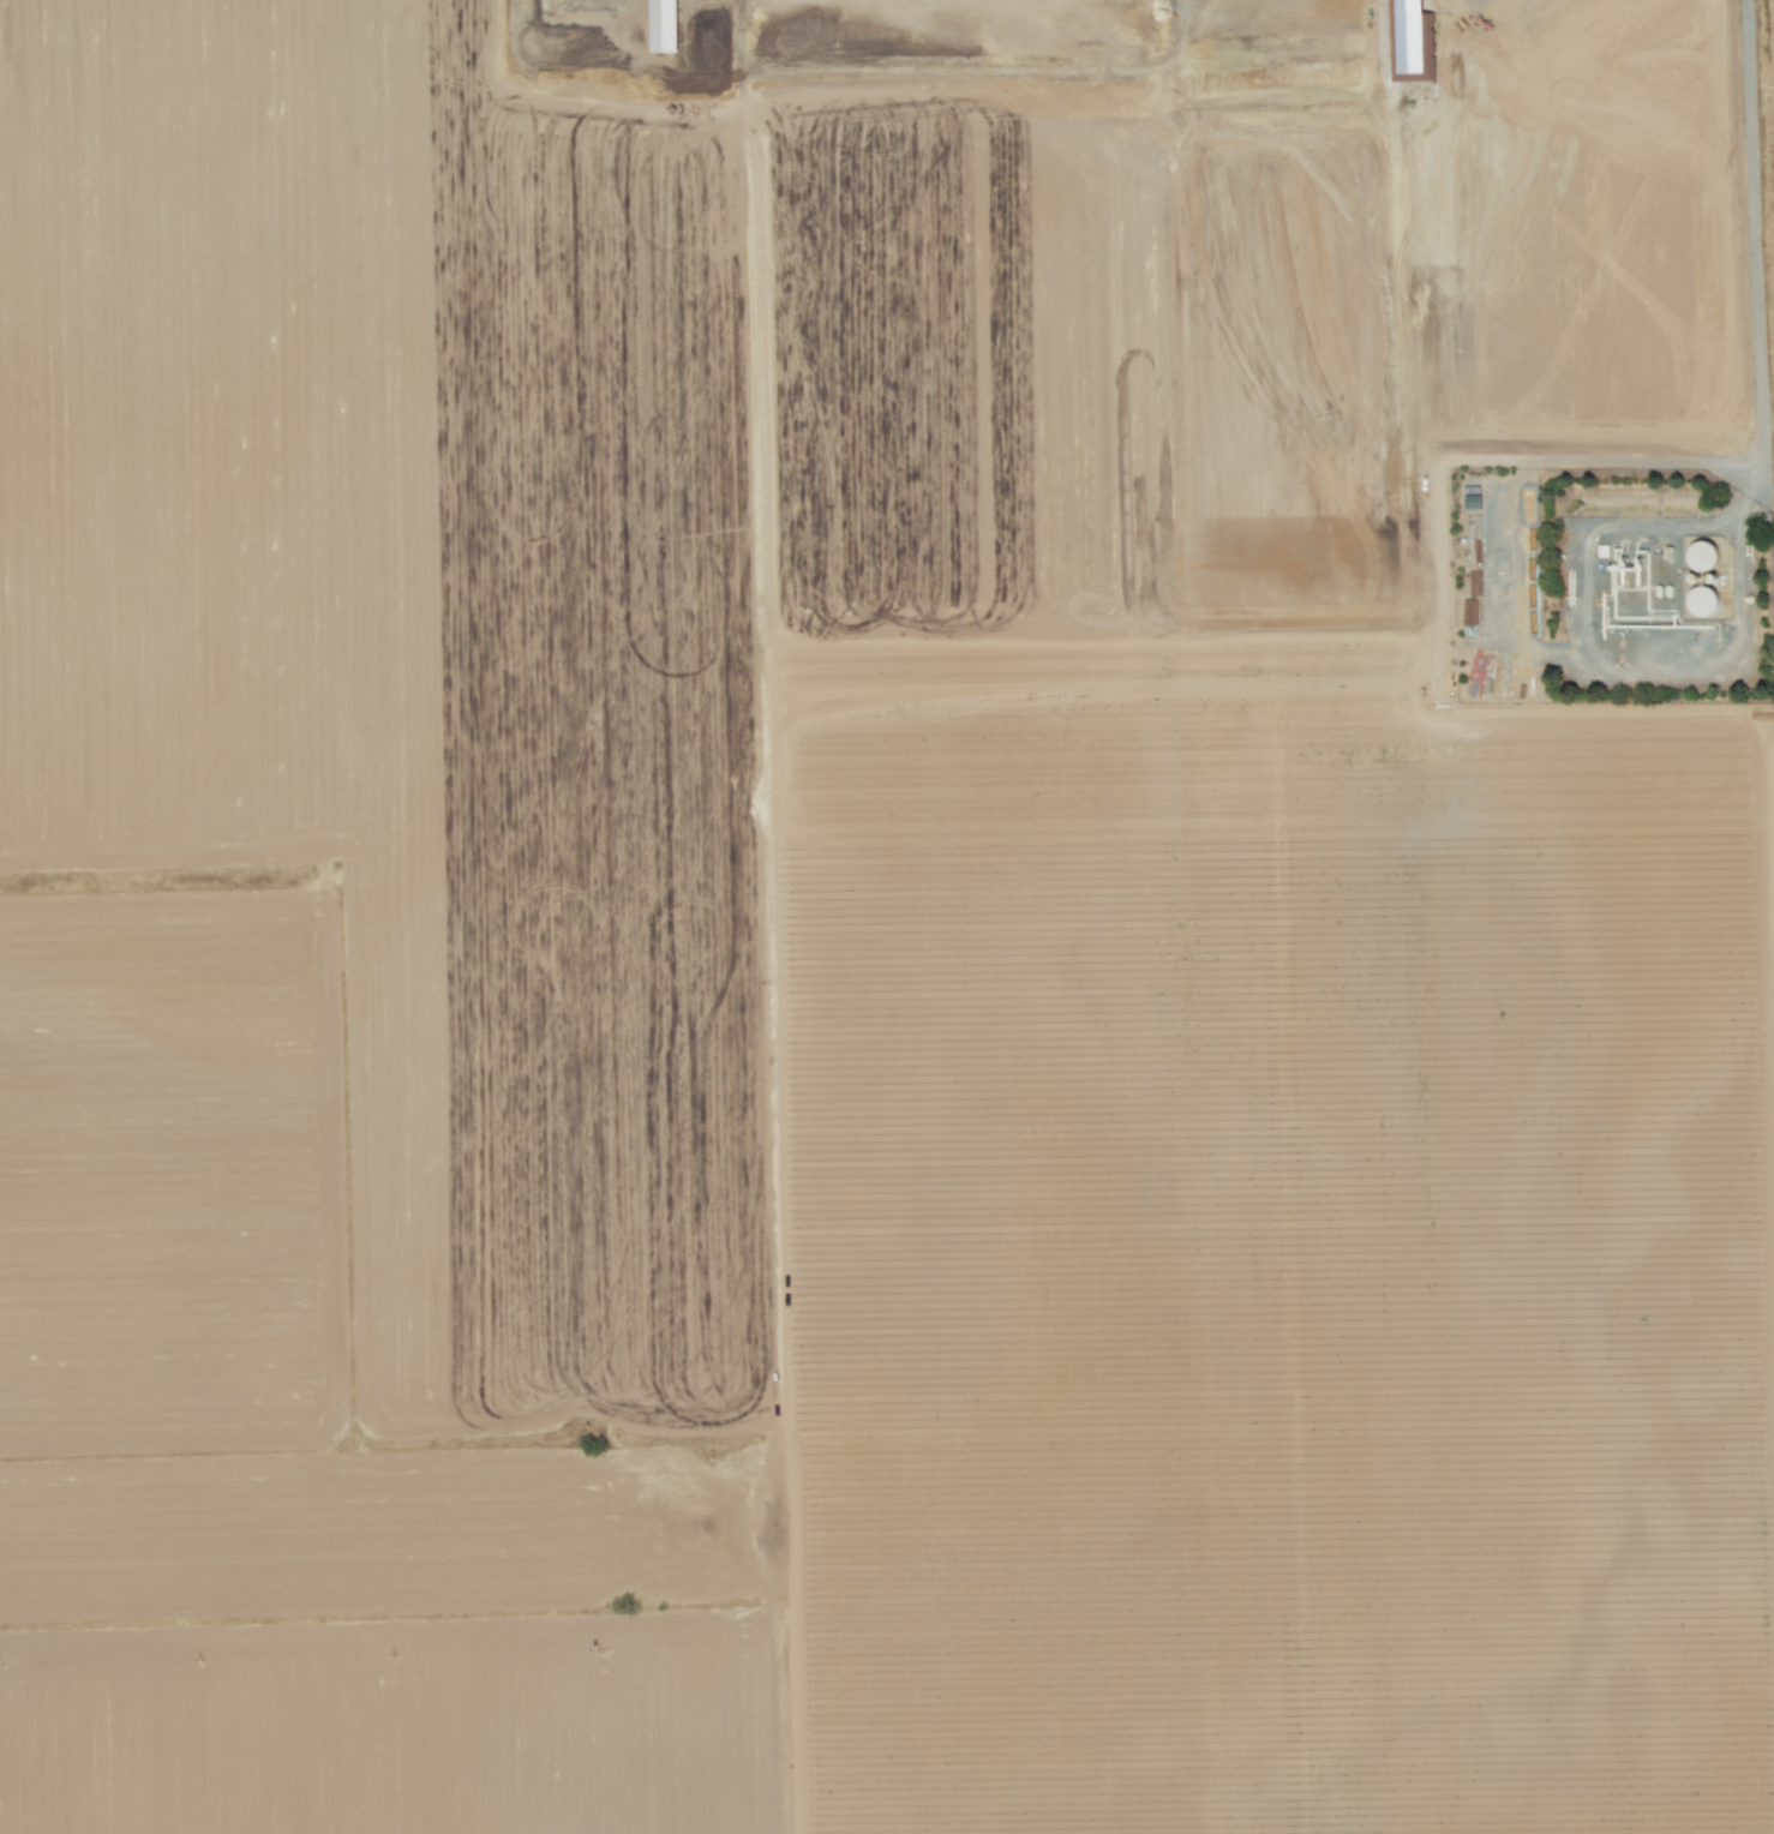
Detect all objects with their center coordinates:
building: (664, 25)
road: (951, 73)
road: (1755, 390)

